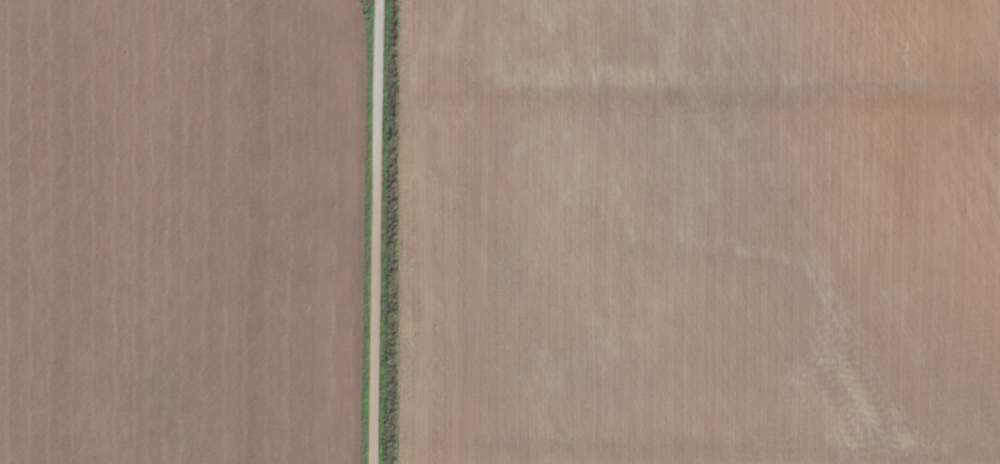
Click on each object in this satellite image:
road: (380, 231)

